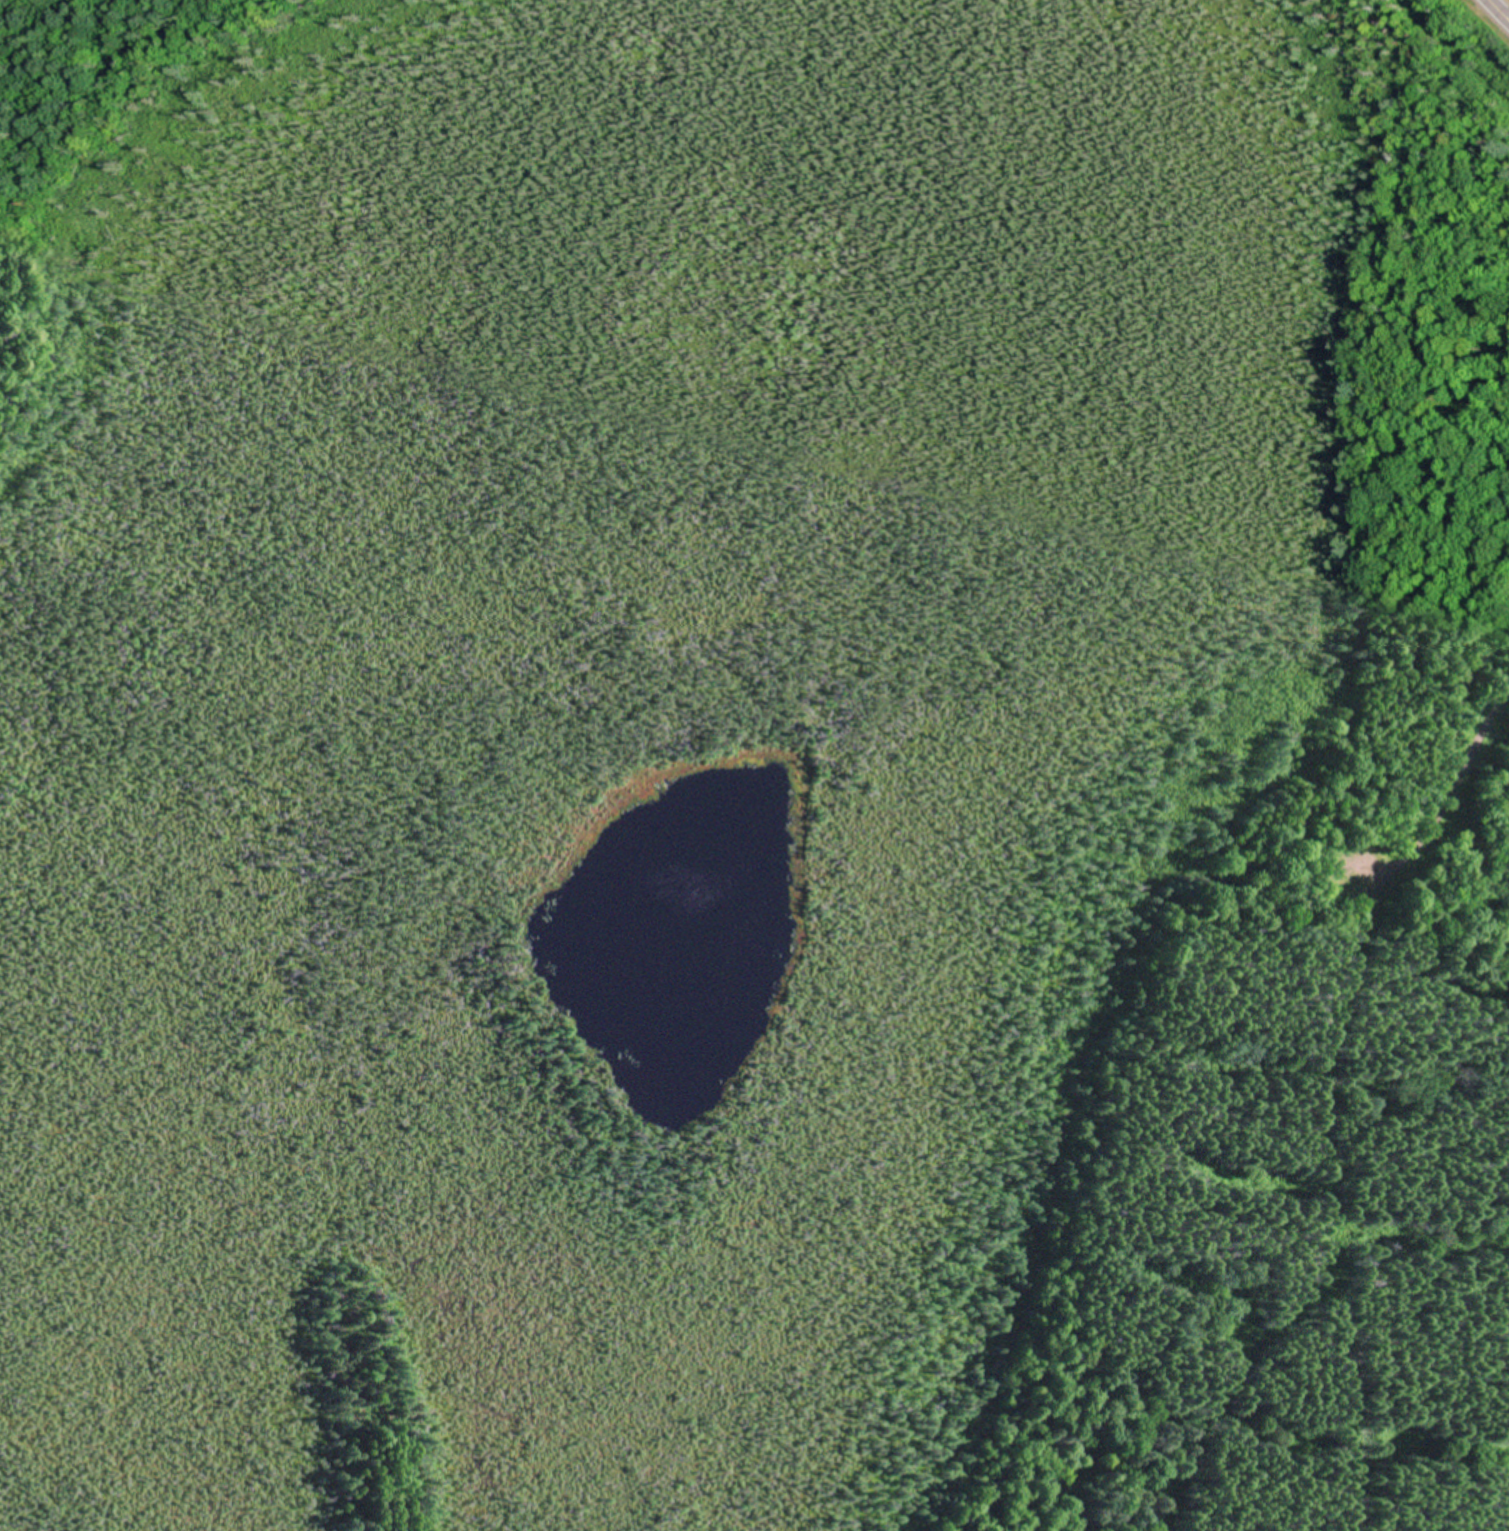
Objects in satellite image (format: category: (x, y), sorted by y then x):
road: (1500, 8)

